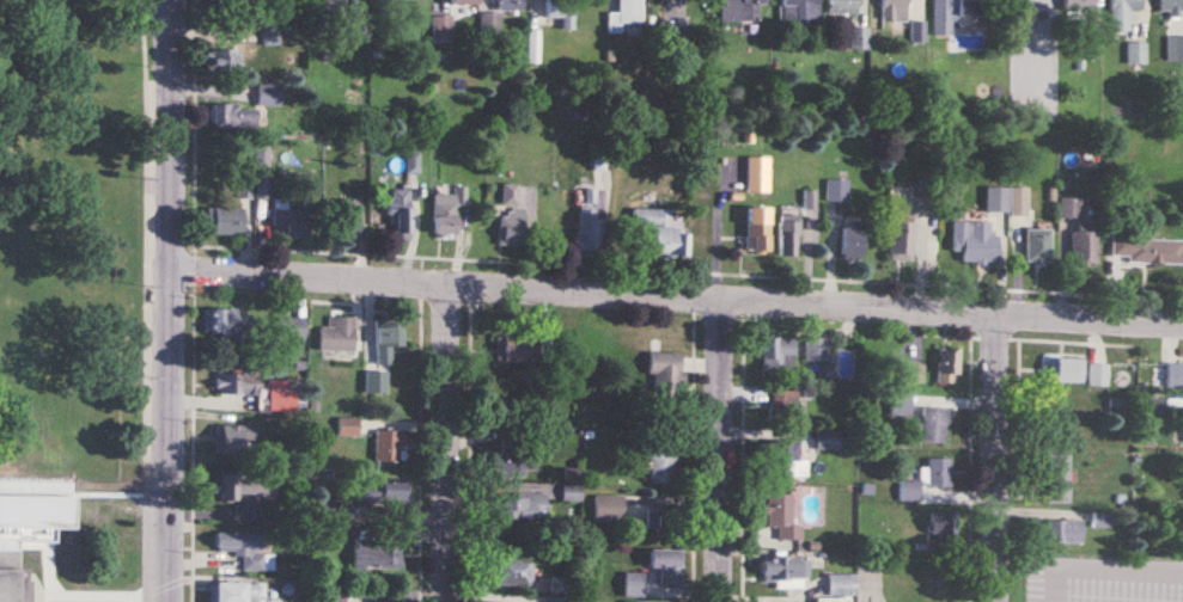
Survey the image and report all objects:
building: (464, 1)
building: (413, 4)
building: (510, 4)
building: (1080, 4)
building: (843, 6)
building: (1171, 7)
building: (331, 8)
building: (739, 10)
building: (800, 10)
building: (895, 10)
building: (561, 12)
building: (955, 13)
building: (1123, 13)
building: (626, 14)
building: (276, 17)
building: (441, 29)
building: (917, 32)
building: (859, 38)
building: (1175, 49)
building: (1136, 54)
building: (268, 94)
building: (233, 116)
building: (411, 162)
building: (757, 174)
building: (244, 188)
building: (263, 188)
building: (837, 190)
building: (922, 197)
building: (1006, 201)
building: (1069, 209)
building: (447, 211)
building: (401, 214)
building: (511, 217)
building: (347, 219)
building: (224, 221)
building: (292, 221)
building: (589, 228)
building: (663, 229)
building: (758, 229)
building: (788, 235)
building: (900, 235)
building: (975, 241)
building: (852, 242)
building: (1084, 244)
building: (1037, 246)
building: (1147, 251)
road: (677, 295)
road: (170, 300)
building: (225, 322)
building: (289, 330)
building: (337, 334)
building: (386, 339)
building: (516, 346)
building: (816, 349)
building: (778, 355)
building: (947, 365)
building: (1068, 370)
building: (666, 373)
building: (1098, 375)
building: (1175, 377)
building: (374, 382)
building: (236, 383)
building: (280, 395)
building: (901, 404)
building: (785, 405)
building: (934, 424)
building: (348, 426)
building: (234, 438)
building: (827, 440)
road: (446, 442)
building: (389, 446)
road: (716, 449)
road: (999, 457)
building: (782, 460)
building: (663, 461)
building: (511, 462)
building: (939, 472)
building: (1056, 478)
building: (244, 486)
building: (382, 491)
building: (512, 505)
building: (609, 508)
building: (334, 512)
building: (663, 516)
building: (781, 516)
building: (941, 523)
building: (1063, 532)
building: (242, 548)
building: (378, 555)
building: (666, 565)
road: (1100, 565)
building: (785, 572)
building: (514, 573)
building: (12, 577)
building: (841, 584)
building: (633, 585)
building: (237, 592)
building: (331, 592)
road: (33, 594)

